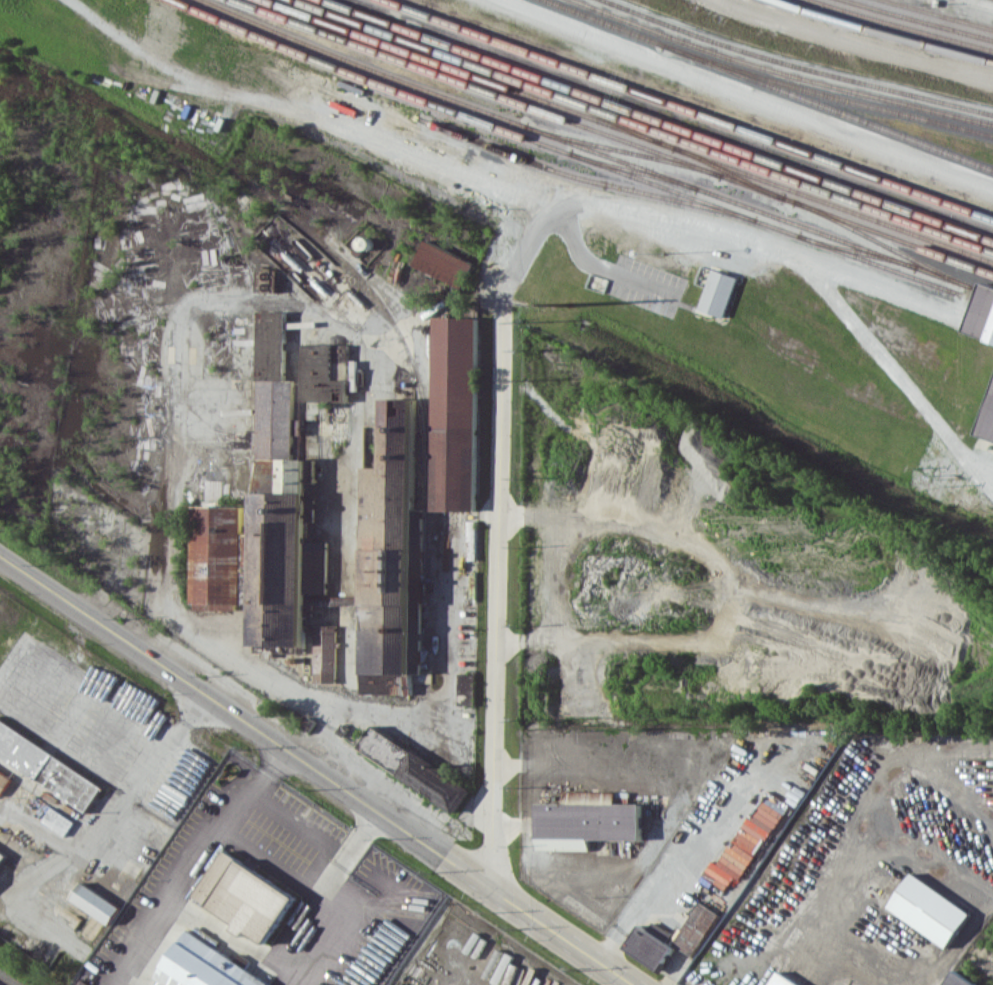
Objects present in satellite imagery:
railway: (938, 14)
railway: (369, 15)
railway: (923, 19)
railway: (903, 25)
railway: (885, 33)
road: (856, 43)
railway: (480, 60)
railway: (799, 63)
railway: (782, 71)
railway: (768, 76)
road: (750, 93)
railway: (829, 105)
railway: (692, 108)
railway: (604, 115)
railway: (669, 122)
railway: (646, 125)
railway: (631, 131)
railway: (615, 136)
railway: (622, 149)
railway: (596, 151)
railway: (584, 157)
railway: (633, 169)
railway: (728, 171)
railway: (581, 177)
road: (499, 194)
railway: (884, 244)
railway: (856, 250)
building: (443, 263)
road: (595, 265)
building: (266, 280)
building: (717, 293)
building: (983, 314)
road: (893, 369)
building: (327, 372)
building: (272, 384)
building: (455, 413)
building: (988, 423)
road: (501, 542)
building: (390, 545)
building: (223, 556)
building: (325, 653)
road: (221, 705)
road: (436, 717)
building: (48, 767)
building: (413, 767)
building: (3, 781)
building: (59, 819)
building: (586, 820)
road: (298, 825)
road: (103, 843)
building: (2, 854)
road: (269, 860)
road: (196, 862)
road: (539, 867)
road: (662, 889)
building: (246, 897)
road: (314, 900)
building: (96, 902)
building: (929, 909)
road: (537, 919)
building: (696, 928)
building: (649, 944)
building: (205, 966)
building: (782, 980)
building: (955, 980)
railway: (3, 982)

